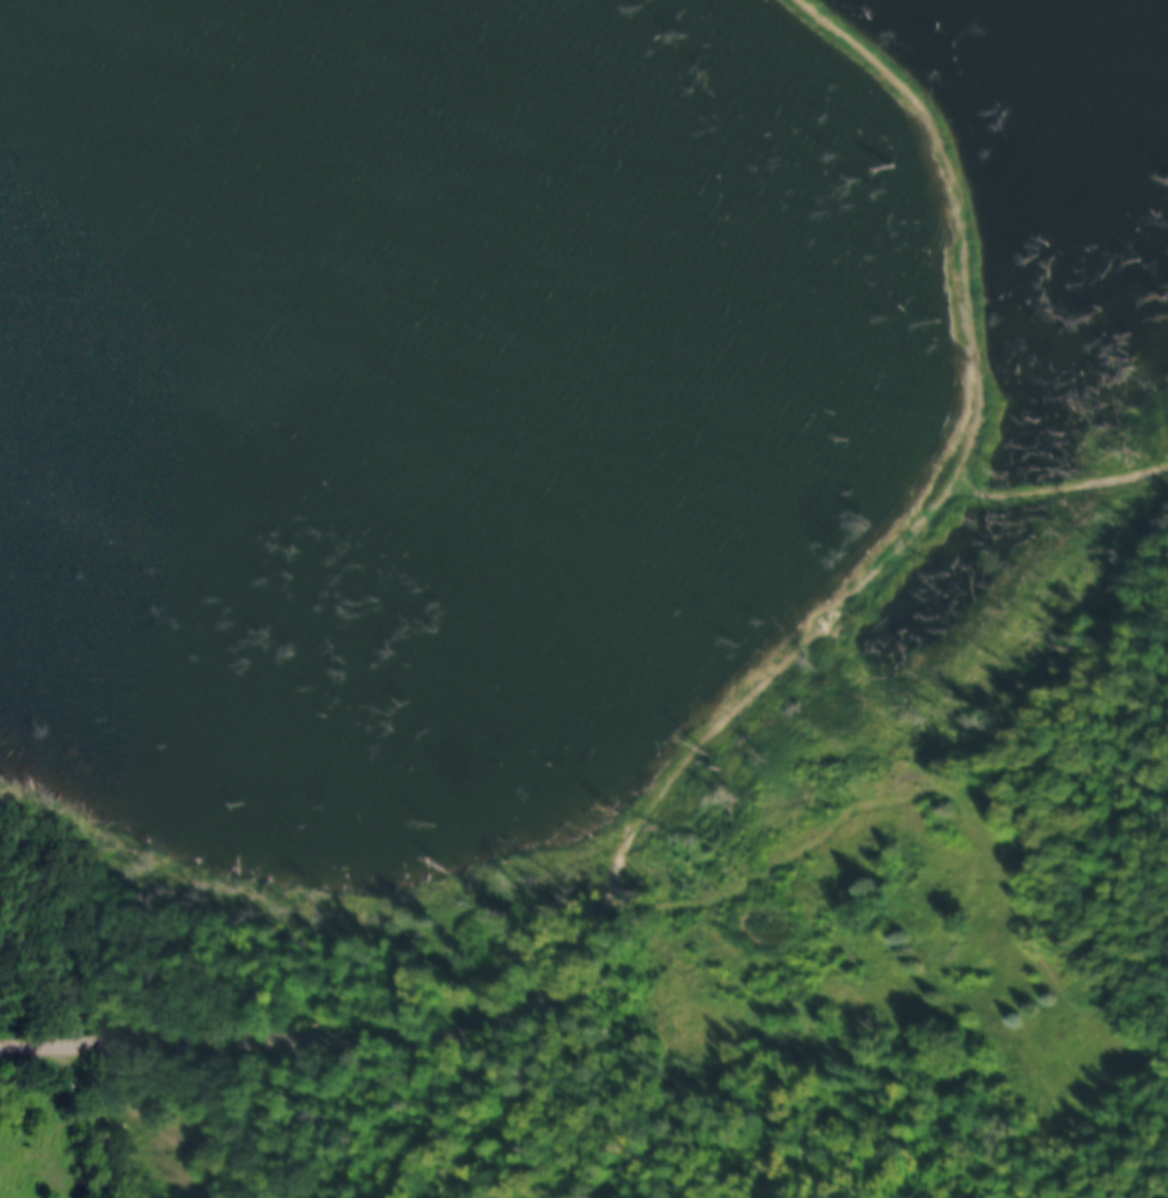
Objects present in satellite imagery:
road: (1053, 337)
road: (948, 457)
road: (1054, 477)
road: (354, 1033)

